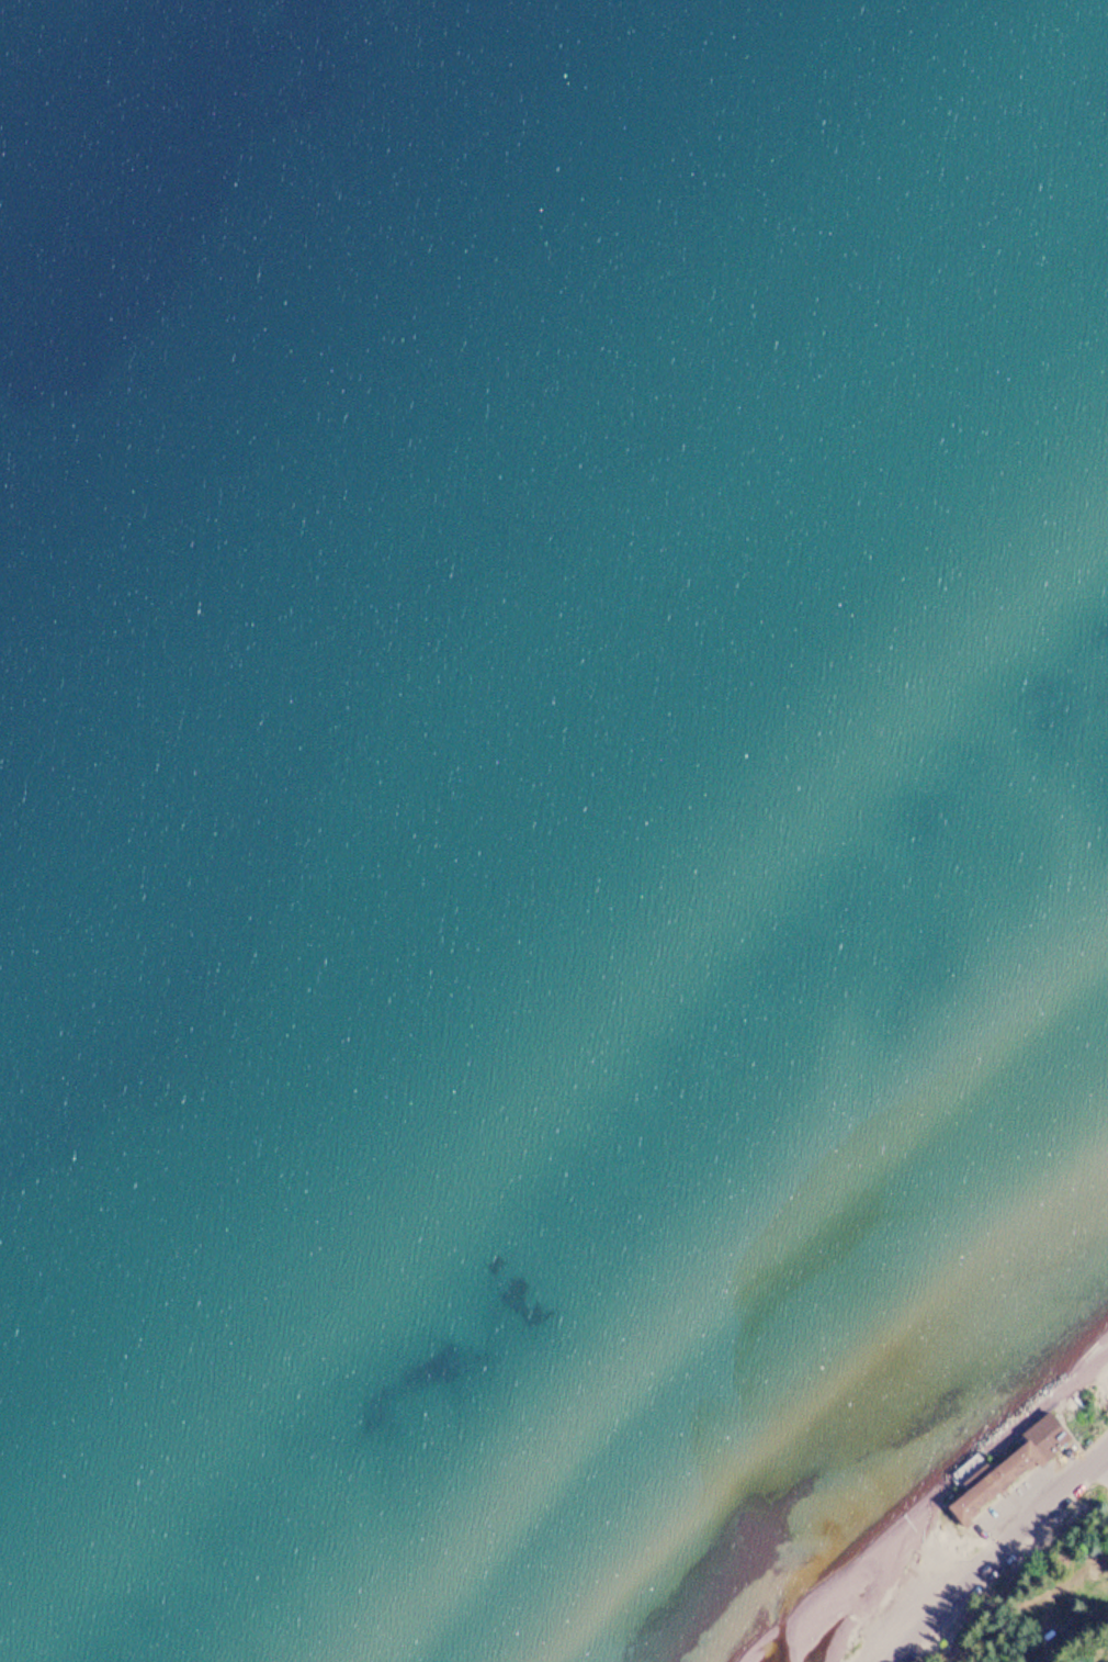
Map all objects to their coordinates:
building: (1011, 1472)
road: (992, 1552)
river: (768, 1612)

